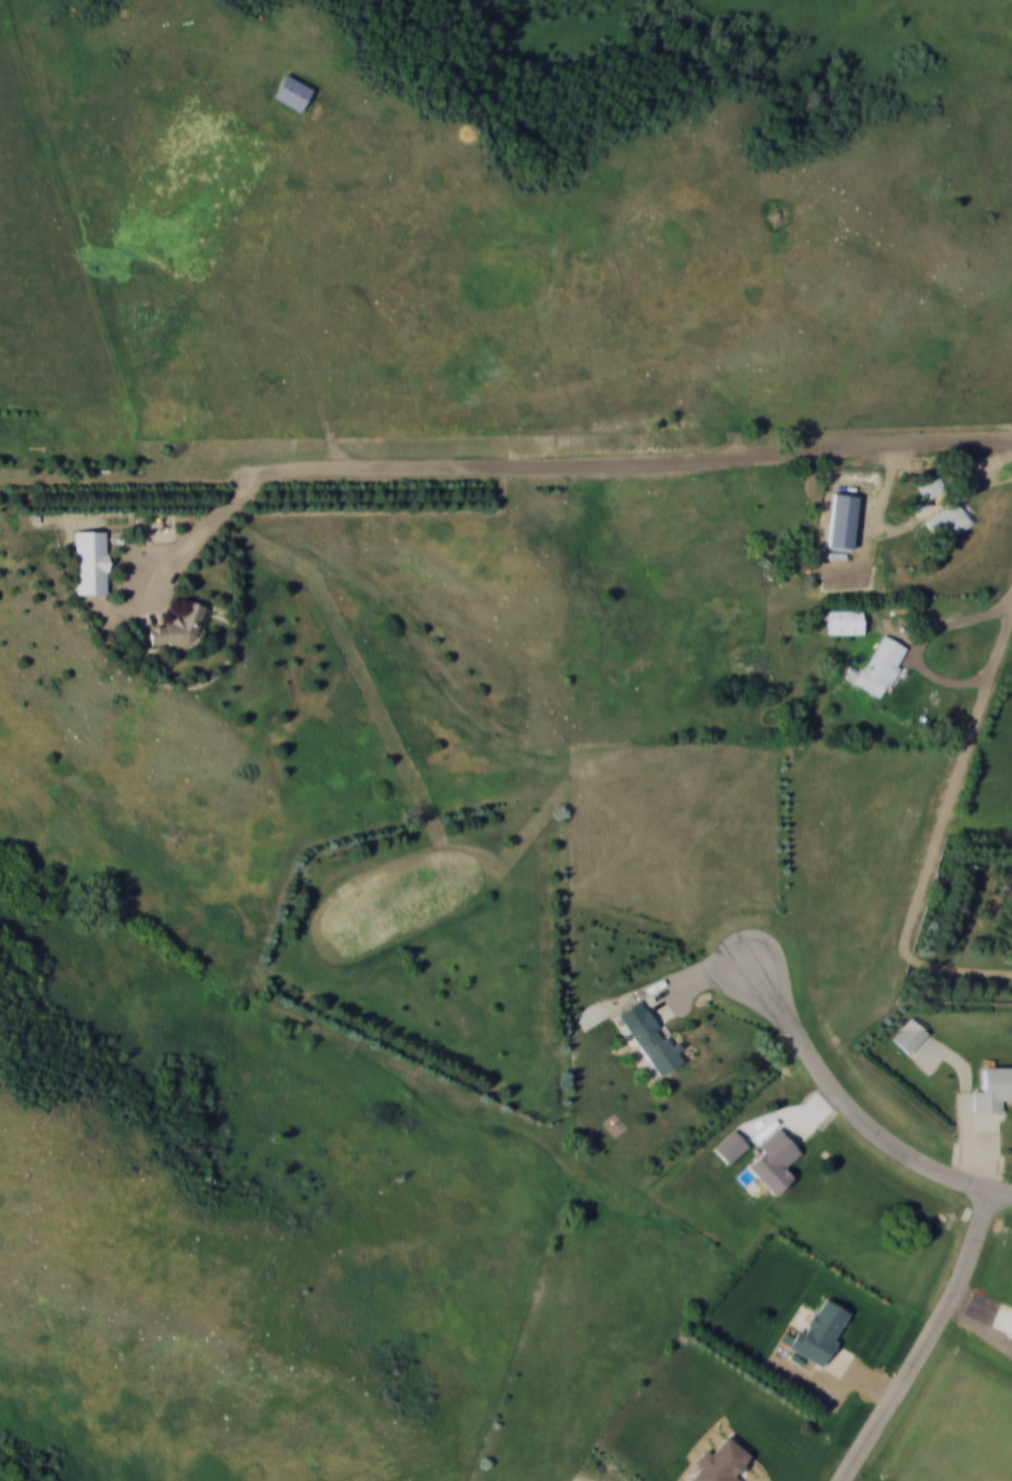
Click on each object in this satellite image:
building: (291, 91)
road: (503, 465)
building: (929, 484)
building: (946, 519)
road: (192, 535)
building: (89, 561)
building: (845, 620)
building: (181, 624)
road: (924, 643)
building: (882, 664)
road: (958, 779)
road: (956, 971)
building: (909, 1035)
building: (648, 1036)
building: (993, 1090)
road: (851, 1111)
building: (773, 1160)
building: (820, 1330)
building: (1010, 1331)
road: (925, 1341)
building: (720, 1462)

